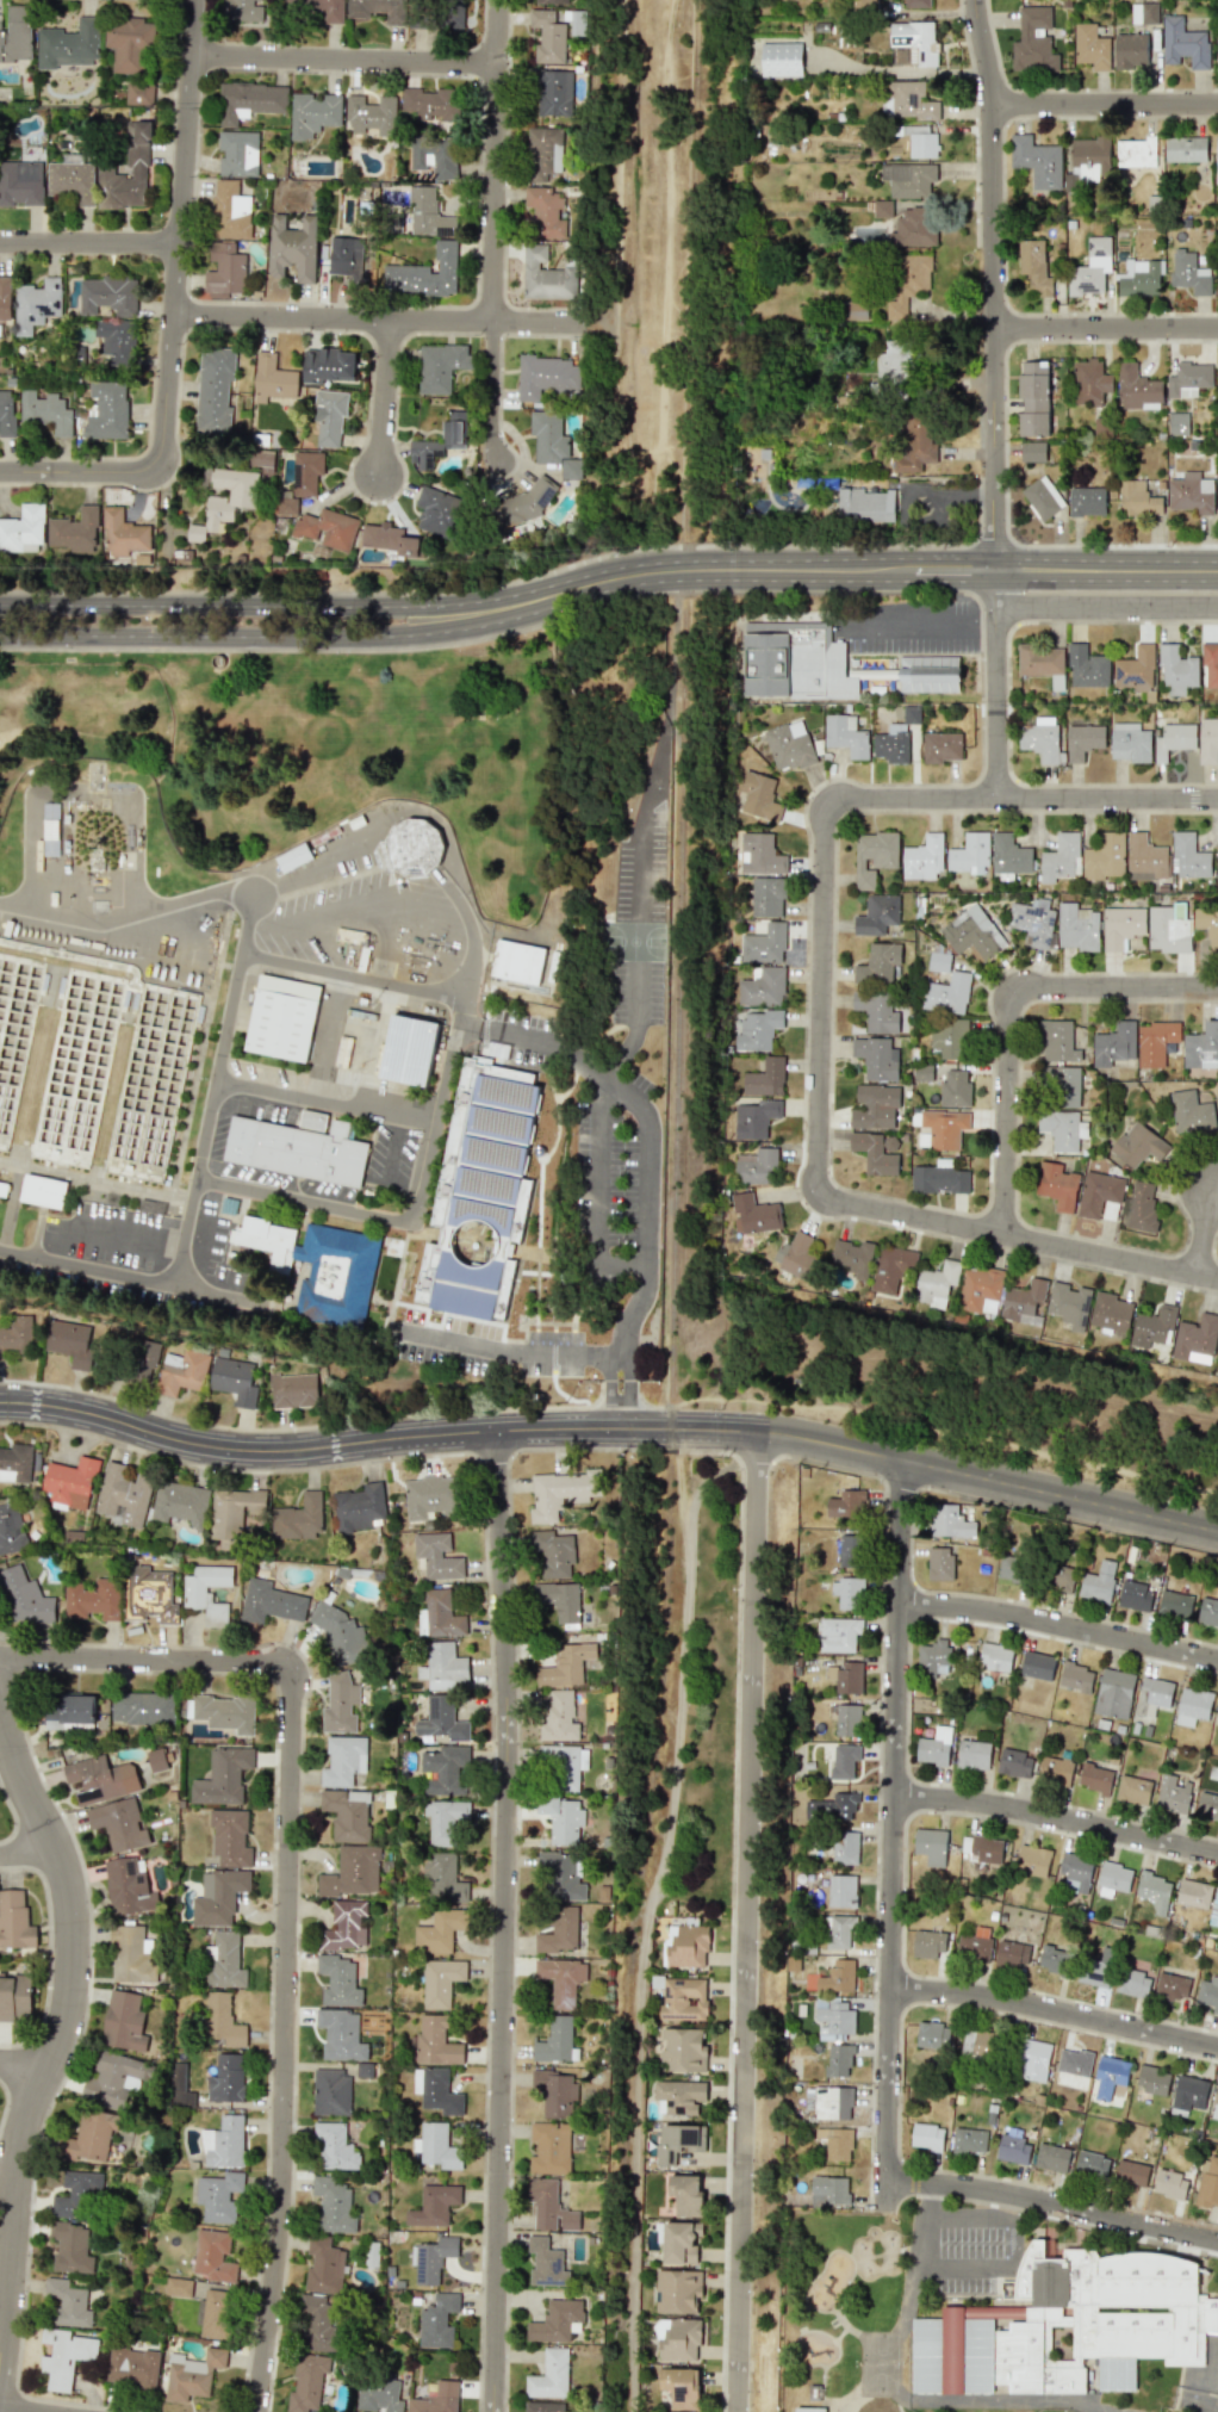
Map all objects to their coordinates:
building: (552, 1)
building: (916, 4)
building: (865, 5)
building: (318, 8)
building: (241, 10)
building: (378, 10)
road: (936, 12)
building: (450, 13)
building: (1149, 13)
building: (17, 35)
building: (548, 37)
building: (914, 41)
building: (1033, 41)
building: (129, 43)
building: (1183, 43)
building: (69, 44)
building: (1090, 46)
building: (1130, 50)
building: (1217, 51)
building: (781, 60)
road: (347, 62)
road: (899, 69)
building: (553, 92)
building: (138, 93)
building: (250, 100)
building: (907, 100)
building: (430, 103)
road: (1105, 107)
building: (312, 114)
building: (371, 114)
building: (919, 139)
building: (137, 143)
building: (1185, 149)
building: (1135, 153)
building: (237, 154)
building: (543, 154)
building: (434, 156)
building: (1090, 157)
building: (1037, 161)
building: (1216, 162)
building: (908, 179)
building: (72, 181)
building: (20, 184)
building: (882, 209)
building: (230, 211)
building: (424, 211)
building: (545, 212)
building: (913, 228)
road: (495, 232)
road: (179, 236)
road: (89, 247)
building: (292, 248)
building: (343, 254)
building: (1033, 265)
railway: (694, 268)
building: (1090, 268)
building: (224, 271)
building: (1189, 272)
building: (424, 273)
building: (545, 275)
building: (1139, 277)
building: (907, 281)
building: (1216, 283)
building: (107, 294)
building: (5, 298)
building: (36, 304)
road: (381, 322)
road: (1106, 331)
building: (116, 341)
building: (893, 364)
building: (329, 365)
building: (440, 366)
building: (546, 376)
building: (273, 379)
building: (1188, 379)
building: (1089, 382)
building: (213, 389)
building: (1137, 389)
road: (994, 398)
building: (1032, 398)
road: (387, 401)
building: (107, 410)
building: (46, 411)
building: (7, 414)
building: (328, 416)
building: (1177, 423)
building: (437, 441)
building: (914, 442)
road: (1003, 442)
building: (553, 445)
building: (1032, 452)
building: (261, 460)
building: (305, 472)
road: (81, 473)
road: (936, 492)
building: (1191, 494)
building: (1042, 497)
building: (1136, 498)
building: (224, 501)
building: (1087, 501)
building: (285, 504)
building: (522, 504)
building: (864, 504)
building: (435, 510)
building: (1217, 513)
road: (937, 519)
building: (327, 528)
building: (23, 529)
building: (74, 531)
building: (123, 533)
building: (387, 539)
road: (852, 571)
road: (246, 606)
road: (913, 622)
road: (987, 622)
road: (247, 634)
building: (1039, 659)
building: (795, 662)
building: (1210, 663)
building: (1087, 668)
building: (1135, 669)
building: (1176, 670)
building: (928, 674)
road: (1006, 702)
road: (678, 713)
building: (911, 714)
building: (845, 734)
building: (1040, 738)
building: (1173, 739)
building: (1082, 740)
building: (1129, 742)
building: (1207, 742)
building: (891, 744)
park: (312, 745)
building: (789, 745)
building: (942, 746)
building: (759, 796)
road: (1023, 799)
building: (414, 847)
road: (330, 851)
building: (759, 854)
building: (970, 854)
building: (1009, 855)
building: (874, 856)
building: (1189, 856)
building: (293, 857)
building: (1105, 857)
building: (922, 858)
building: (1061, 858)
building: (1145, 858)
building: (1217, 864)
building: (766, 897)
road: (329, 912)
road: (126, 914)
building: (877, 914)
building: (1033, 922)
building: (1207, 925)
building: (1076, 926)
building: (1121, 926)
building: (1168, 931)
building: (972, 934)
road: (324, 938)
building: (764, 944)
building: (939, 957)
building: (517, 961)
building: (878, 965)
road: (350, 974)
building: (763, 986)
building: (947, 993)
road: (822, 999)
road: (1009, 1010)
building: (875, 1011)
building: (285, 1021)
road: (636, 1024)
building: (757, 1030)
building: (947, 1037)
road: (533, 1038)
building: (1057, 1041)
building: (1155, 1042)
building: (1114, 1044)
building: (1201, 1047)
building: (412, 1053)
building: (876, 1058)
building: (765, 1078)
building: (1064, 1086)
building: (955, 1089)
road: (213, 1090)
road: (323, 1102)
building: (874, 1106)
building: (1191, 1112)
building: (754, 1118)
building: (311, 1120)
building: (944, 1128)
building: (1062, 1129)
building: (1138, 1145)
road: (425, 1148)
building: (296, 1149)
building: (876, 1152)
road: (391, 1161)
building: (757, 1166)
building: (939, 1179)
road: (95, 1180)
building: (1057, 1186)
building: (43, 1191)
road: (596, 1191)
building: (478, 1192)
building: (1099, 1196)
building: (229, 1204)
road: (644, 1207)
building: (1138, 1208)
building: (756, 1213)
road: (104, 1233)
road: (1204, 1234)
road: (1018, 1240)
building: (796, 1257)
building: (852, 1258)
road: (198, 1260)
building: (319, 1266)
building: (891, 1269)
road: (131, 1276)
building: (937, 1284)
building: (980, 1290)
building: (1069, 1304)
building: (1110, 1312)
building: (1152, 1327)
building: (17, 1333)
building: (1195, 1339)
building: (70, 1341)
road: (503, 1347)
building: (143, 1359)
building: (182, 1371)
building: (234, 1381)
building: (293, 1390)
road: (609, 1390)
road: (630, 1390)
road: (374, 1441)
building: (19, 1463)
road: (986, 1478)
building: (70, 1482)
building: (560, 1492)
building: (124, 1495)
building: (430, 1496)
railway: (667, 1502)
building: (180, 1503)
building: (846, 1503)
building: (359, 1508)
building: (232, 1513)
building: (298, 1518)
building: (949, 1521)
building: (11, 1529)
building: (847, 1549)
building: (553, 1552)
building: (436, 1556)
building: (939, 1563)
building: (1009, 1567)
building: (1061, 1574)
building: (1099, 1582)
building: (207, 1592)
building: (847, 1592)
building: (1133, 1595)
building: (25, 1598)
building: (93, 1599)
building: (559, 1600)
building: (271, 1601)
building: (149, 1604)
building: (1175, 1604)
building: (1208, 1612)
building: (439, 1616)
road: (1059, 1626)
building: (340, 1633)
building: (838, 1635)
building: (995, 1656)
building: (932, 1658)
building: (566, 1664)
building: (442, 1666)
building: (1037, 1666)
building: (845, 1676)
building: (1075, 1676)
building: (1113, 1693)
building: (1152, 1697)
building: (340, 1704)
building: (1192, 1706)
building: (142, 1707)
building: (70, 1711)
building: (225, 1712)
building: (558, 1717)
building: (1217, 1717)
building: (441, 1719)
building: (847, 1719)
building: (934, 1747)
building: (972, 1754)
building: (156, 1760)
building: (343, 1761)
building: (844, 1761)
building: (1014, 1763)
building: (563, 1765)
building: (445, 1769)
building: (1055, 1771)
building: (223, 1777)
building: (1094, 1778)
building: (101, 1779)
building: (1174, 1792)
building: (1132, 1793)
building: (1207, 1805)
building: (832, 1806)
building: (347, 1813)
building: (561, 1818)
road: (1057, 1818)
building: (443, 1819)
road: (894, 1821)
building: (120, 1824)
building: (230, 1837)
building: (931, 1846)
building: (845, 1847)
building: (984, 1850)
road: (31, 1858)
building: (1032, 1860)
building: (353, 1872)
building: (1075, 1872)
building: (443, 1875)
building: (560, 1875)
building: (1113, 1879)
building: (129, 1886)
building: (841, 1890)
road: (288, 1891)
building: (1154, 1891)
building: (1193, 1893)
building: (218, 1897)
building: (1213, 1909)
road: (644, 1917)
building: (14, 1920)
road: (504, 1921)
road: (744, 1921)
building: (346, 1927)
building: (439, 1930)
building: (559, 1930)
building: (837, 1932)
building: (686, 1945)
building: (927, 1945)
building: (972, 1948)
building: (1011, 1954)
building: (132, 1955)
building: (1052, 1959)
building: (224, 1961)
building: (1096, 1967)
building: (837, 1976)
building: (561, 1979)
building: (338, 1980)
building: (440, 1982)
building: (1133, 1983)
building: (1172, 1986)
building: (1208, 1992)
building: (14, 1997)
building: (682, 1997)
road: (1056, 2010)
building: (833, 2017)
building: (223, 2020)
building: (124, 2021)
building: (340, 2034)
building: (932, 2034)
building: (557, 2041)
building: (434, 2042)
building: (974, 2045)
building: (683, 2050)
road: (54, 2057)
road: (26, 2059)
building: (838, 2060)
building: (1033, 2060)
building: (1073, 2064)
building: (1108, 2077)
building: (226, 2078)
building: (113, 2079)
building: (1152, 2081)
building: (180, 2087)
building: (436, 2090)
building: (330, 2092)
building: (555, 2092)
building: (1189, 2092)
building: (679, 2096)
building: (828, 2102)
building: (1216, 2103)
building: (927, 2137)
building: (88, 2138)
building: (969, 2140)
building: (678, 2141)
building: (224, 2143)
building: (837, 2143)
building: (334, 2146)
building: (436, 2146)
building: (549, 2147)
building: (1013, 2150)
building: (1051, 2157)
building: (1092, 2164)
building: (1131, 2172)
building: (1169, 2184)
building: (1208, 2184)
building: (75, 2190)
building: (829, 2190)
building: (686, 2195)
road: (885, 2195)
building: (218, 2196)
road: (925, 2200)
road: (1052, 2203)
building: (334, 2205)
building: (434, 2205)
building: (549, 2206)
road: (932, 2214)
building: (681, 2242)
building: (70, 2246)
building: (213, 2256)
building: (431, 2258)
building: (546, 2263)
road: (1002, 2264)
building: (323, 2267)
building: (178, 2287)
building: (678, 2290)
building: (68, 2304)
park: (841, 2311)
building: (212, 2314)
building: (437, 2320)
building: (555, 2320)
building: (316, 2323)
building: (1068, 2326)
building: (678, 2339)
building: (64, 2356)
park: (880, 2362)
building: (132, 2367)
building: (192, 2374)
building: (549, 2375)
building: (306, 2383)
building: (681, 2388)
building: (377, 2394)
building: (435, 2398)
road: (1027, 2400)
building: (543, 2406)
parking lot: (1186, 2408)
road: (13, 2410)
building: (809, 2410)
park: (1054, 2410)

